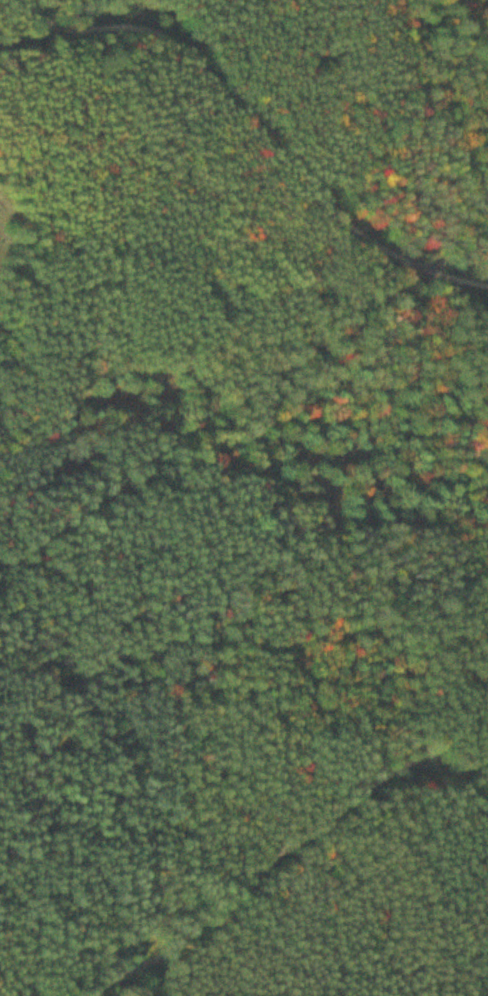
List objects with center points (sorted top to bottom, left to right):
road: (260, 122)
road: (293, 849)

